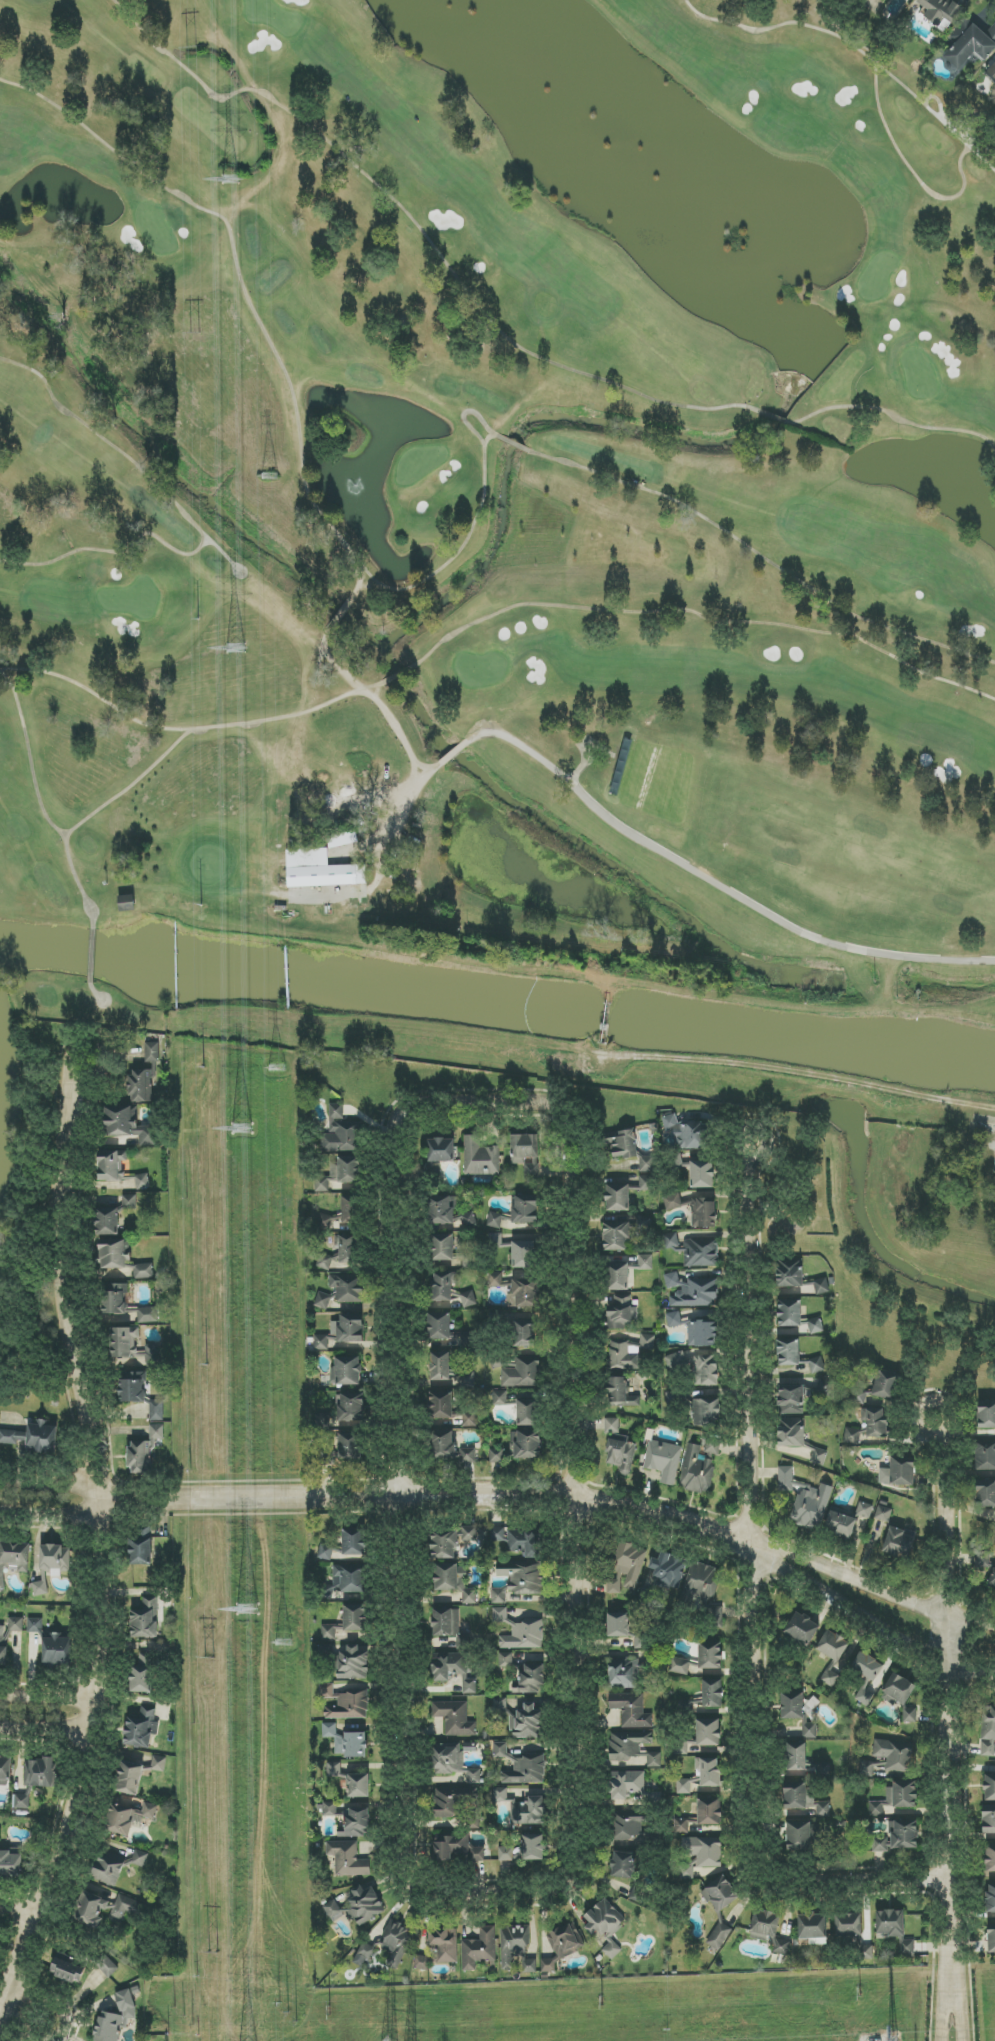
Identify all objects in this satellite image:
building: (940, 12)
building: (992, 30)
building: (967, 45)
power tower: (192, 47)
road: (855, 48)
building: (992, 69)
road: (912, 170)
power tower: (230, 180)
road: (423, 232)
road: (246, 291)
power tower: (195, 333)
road: (466, 412)
road: (893, 416)
power tower: (271, 480)
park: (496, 513)
road: (188, 518)
road: (461, 548)
road: (223, 551)
road: (762, 557)
road: (339, 616)
road: (703, 616)
power tower: (237, 648)
road: (336, 664)
road: (399, 674)
road: (98, 696)
road: (397, 729)
road: (167, 751)
road: (454, 752)
road: (30, 754)
road: (405, 808)
building: (342, 839)
building: (320, 872)
road: (715, 885)
building: (127, 903)
road: (91, 955)
road: (94, 991)
road: (781, 1069)
power tower: (277, 1070)
building: (145, 1075)
road: (484, 1099)
road: (979, 1106)
power tower: (244, 1123)
building: (129, 1125)
building: (343, 1131)
building: (689, 1133)
road: (958, 1138)
building: (623, 1145)
building: (441, 1150)
building: (526, 1154)
building: (480, 1157)
building: (647, 1164)
building: (111, 1165)
building: (341, 1173)
building: (702, 1174)
building: (143, 1181)
building: (645, 1183)
building: (617, 1198)
building: (129, 1202)
building: (672, 1202)
building: (351, 1210)
building: (441, 1210)
building: (525, 1210)
building: (702, 1213)
building: (494, 1220)
building: (642, 1224)
building: (616, 1236)
building: (673, 1242)
building: (444, 1247)
building: (339, 1252)
building: (701, 1253)
building: (114, 1254)
building: (523, 1254)
building: (143, 1271)
building: (790, 1273)
building: (619, 1277)
building: (495, 1279)
building: (822, 1286)
building: (442, 1287)
building: (347, 1288)
building: (693, 1292)
building: (524, 1294)
building: (466, 1298)
building: (323, 1301)
building: (622, 1313)
building: (148, 1315)
building: (796, 1316)
building: (674, 1319)
building: (440, 1325)
building: (342, 1332)
building: (524, 1333)
building: (702, 1334)
building: (467, 1340)
building: (647, 1342)
building: (133, 1346)
building: (789, 1353)
building: (625, 1356)
building: (676, 1360)
building: (816, 1365)
building: (441, 1366)
building: (706, 1370)
building: (346, 1371)
building: (523, 1373)
building: (466, 1378)
building: (133, 1387)
building: (886, 1387)
building: (620, 1393)
building: (861, 1396)
building: (500, 1398)
building: (791, 1398)
building: (442, 1405)
building: (350, 1407)
building: (156, 1410)
building: (528, 1412)
building: (709, 1412)
building: (986, 1415)
building: (470, 1417)
building: (322, 1422)
building: (875, 1422)
building: (791, 1433)
building: (853, 1436)
building: (33, 1438)
building: (444, 1445)
building: (517, 1448)
building: (619, 1448)
building: (343, 1449)
building: (144, 1451)
building: (468, 1455)
building: (986, 1456)
building: (819, 1457)
building: (663, 1461)
building: (701, 1465)
building: (898, 1473)
building: (985, 1492)
road: (509, 1494)
building: (806, 1500)
building: (865, 1510)
building: (883, 1514)
building: (841, 1524)
building: (469, 1533)
building: (498, 1534)
building: (355, 1540)
building: (526, 1542)
building: (898, 1543)
building: (444, 1545)
road: (104, 1547)
building: (140, 1547)
building: (326, 1551)
building: (13, 1558)
building: (55, 1559)
building: (627, 1568)
building: (668, 1571)
building: (522, 1577)
building: (350, 1579)
building: (992, 1580)
building: (454, 1581)
building: (700, 1583)
building: (40, 1586)
building: (499, 1596)
road: (754, 1597)
power tower: (250, 1611)
building: (146, 1617)
building: (348, 1622)
building: (16, 1624)
building: (35, 1625)
building: (618, 1625)
building: (450, 1626)
building: (802, 1628)
building: (519, 1631)
power tower: (285, 1641)
building: (639, 1643)
building: (833, 1646)
building: (4, 1647)
building: (58, 1650)
building: (710, 1654)
building: (506, 1660)
power tower: (210, 1661)
building: (353, 1663)
building: (679, 1666)
building: (453, 1670)
building: (624, 1673)
building: (143, 1674)
building: (866, 1676)
building: (532, 1678)
building: (830, 1678)
building: (898, 1690)
building: (712, 1693)
road: (48, 1702)
building: (345, 1703)
building: (500, 1704)
building: (793, 1706)
road: (953, 1707)
building: (631, 1710)
building: (910, 1715)
building: (455, 1718)
building: (527, 1722)
building: (141, 1728)
building: (809, 1730)
road: (46, 1731)
building: (988, 1731)
building: (708, 1732)
building: (347, 1742)
building: (500, 1749)
building: (632, 1749)
building: (895, 1756)
building: (797, 1757)
building: (454, 1762)
building: (159, 1764)
building: (334, 1769)
building: (526, 1769)
building: (5, 1771)
building: (708, 1771)
building: (39, 1773)
building: (131, 1777)
building: (626, 1784)
building: (358, 1785)
building: (685, 1785)
building: (500, 1794)
building: (896, 1799)
building: (21, 1801)
building: (453, 1802)
building: (529, 1811)
building: (702, 1815)
building: (129, 1818)
building: (989, 1819)
building: (358, 1822)
building: (630, 1829)
building: (904, 1835)
building: (799, 1836)
building: (882, 1844)
building: (457, 1850)
building: (525, 1850)
building: (698, 1856)
building: (348, 1859)
building: (990, 1859)
building: (11, 1865)
building: (623, 1865)
building: (115, 1866)
road: (494, 1890)
building: (991, 1899)
road: (23, 1902)
building: (364, 1905)
building: (106, 1909)
building: (333, 1911)
building: (604, 1919)
building: (848, 1924)
building: (764, 1925)
building: (719, 1936)
building: (991, 1938)
building: (396, 1943)
building: (513, 1945)
building: (560, 1946)
building: (781, 1947)
building: (440, 1948)
building: (479, 1949)
building: (612, 1950)
power tower: (214, 1955)
building: (363, 1955)
building: (529, 1966)
building: (107, 1967)
building: (68, 1971)
power tower: (860, 1991)
road: (952, 2000)
power tower: (601, 2001)
road: (42, 2008)
power tower: (328, 2011)
power tower: (288, 2013)
building: (116, 2018)
power tower: (185, 2018)

